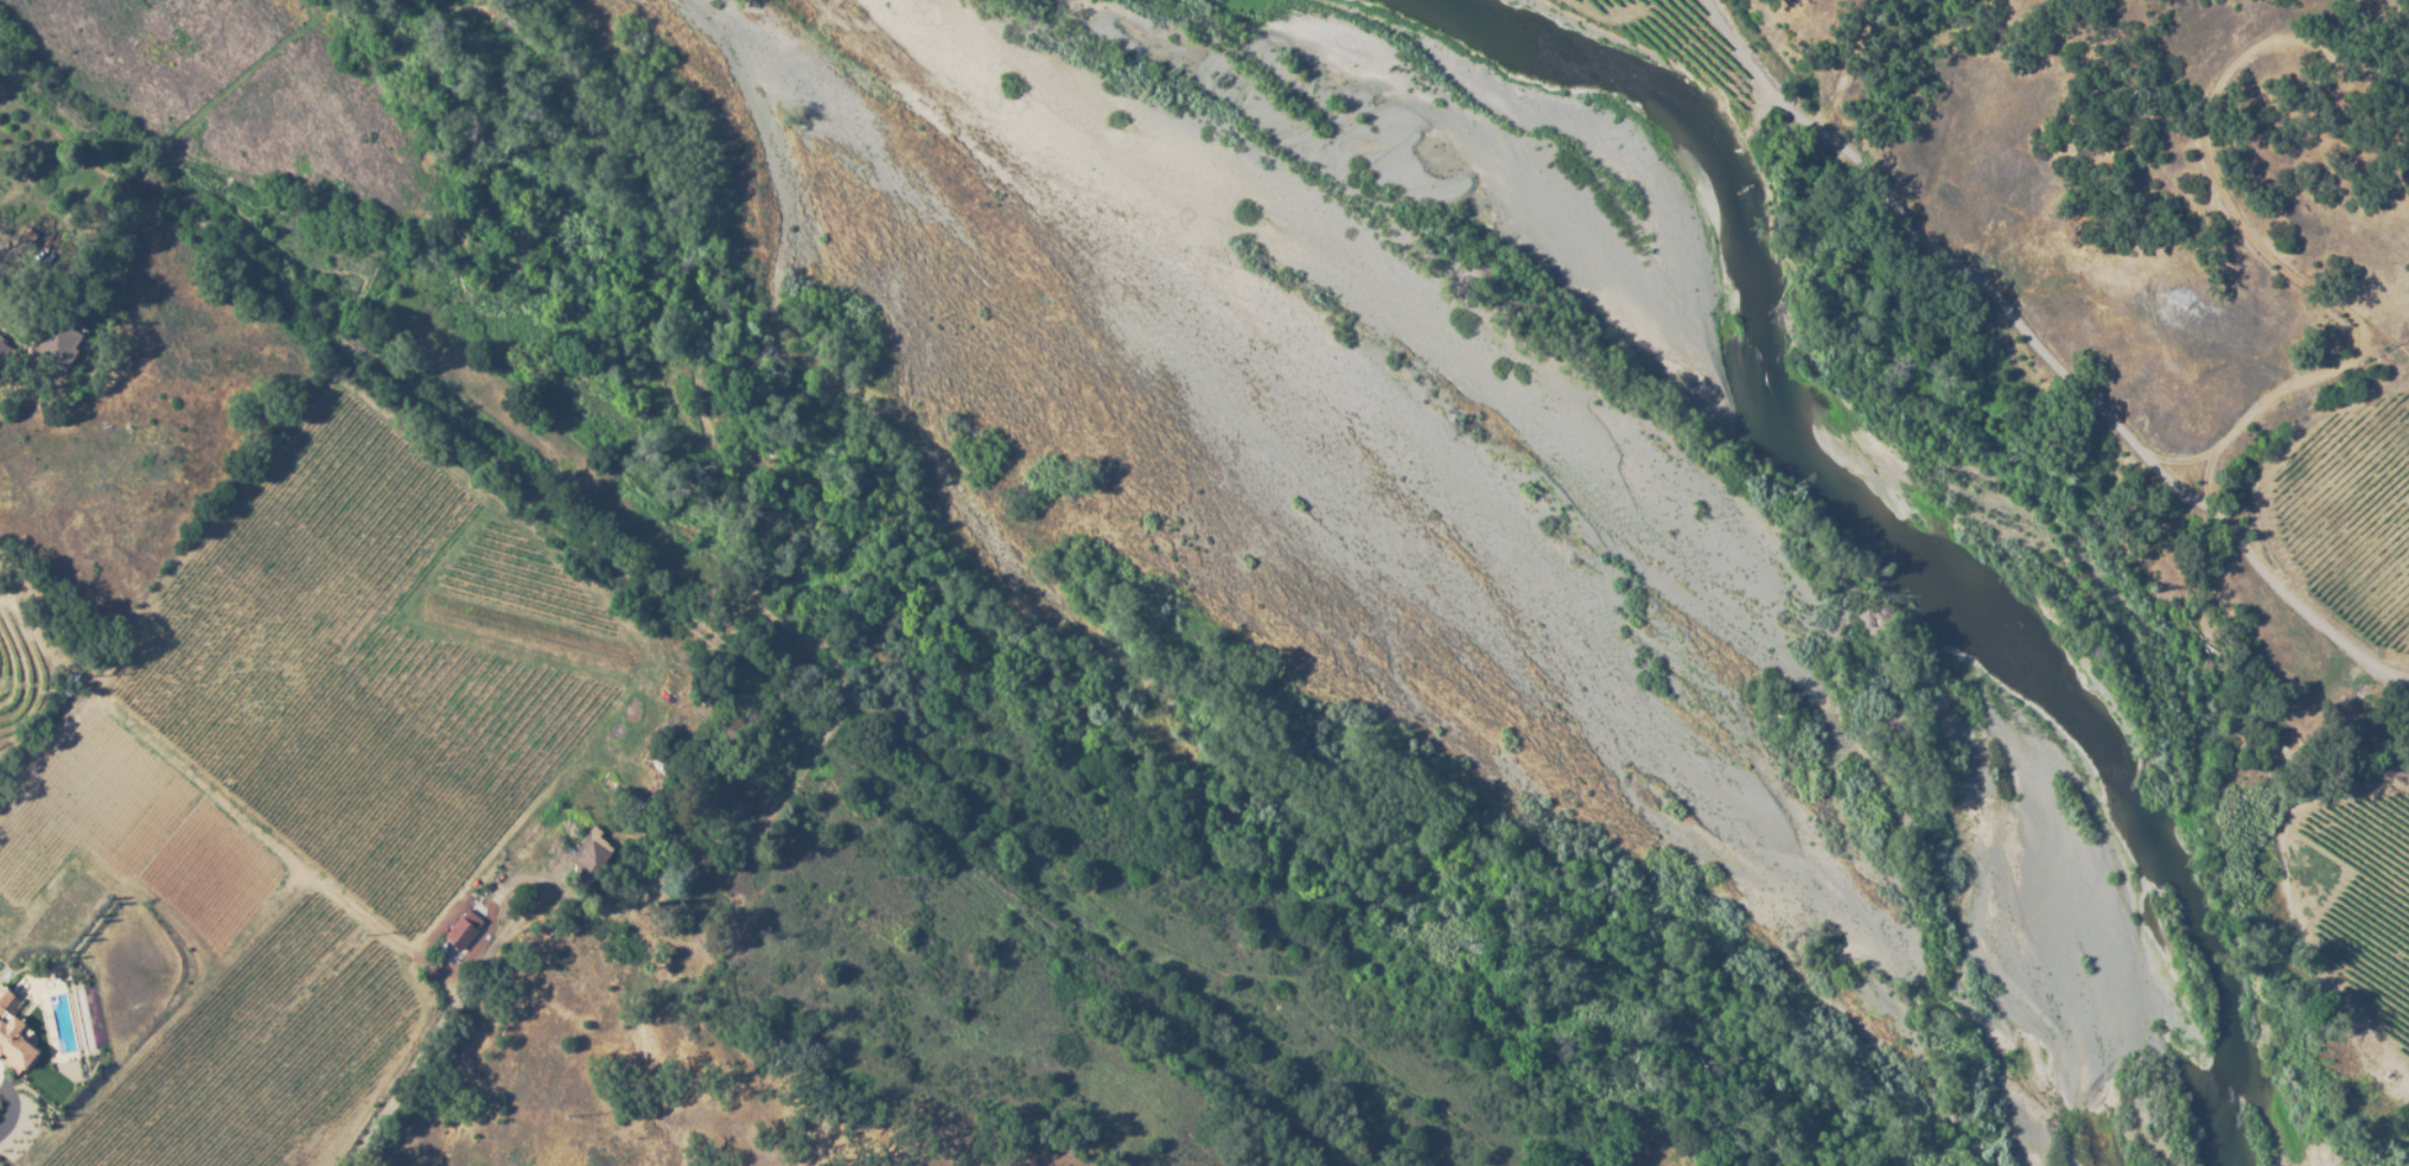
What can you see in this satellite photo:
road: (2225, 200)
building: (52, 348)
river: (1897, 452)
railway: (670, 606)
building: (591, 862)
building: (459, 934)
building: (1, 1003)
building: (11, 1053)
road: (393, 1083)
road: (18, 1108)

